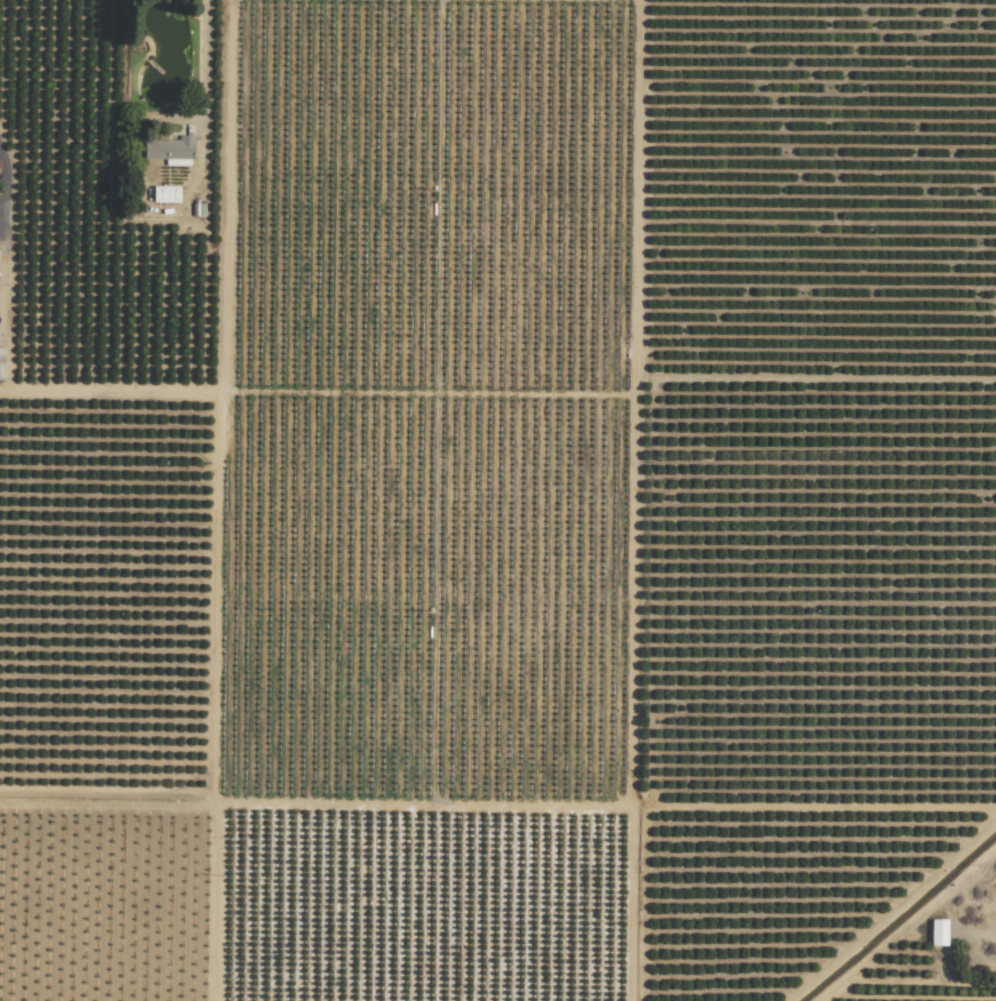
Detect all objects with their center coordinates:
building: (171, 150)
road: (4, 193)
building: (166, 194)
building: (2, 363)
crop: (450, 404)
building: (939, 932)

